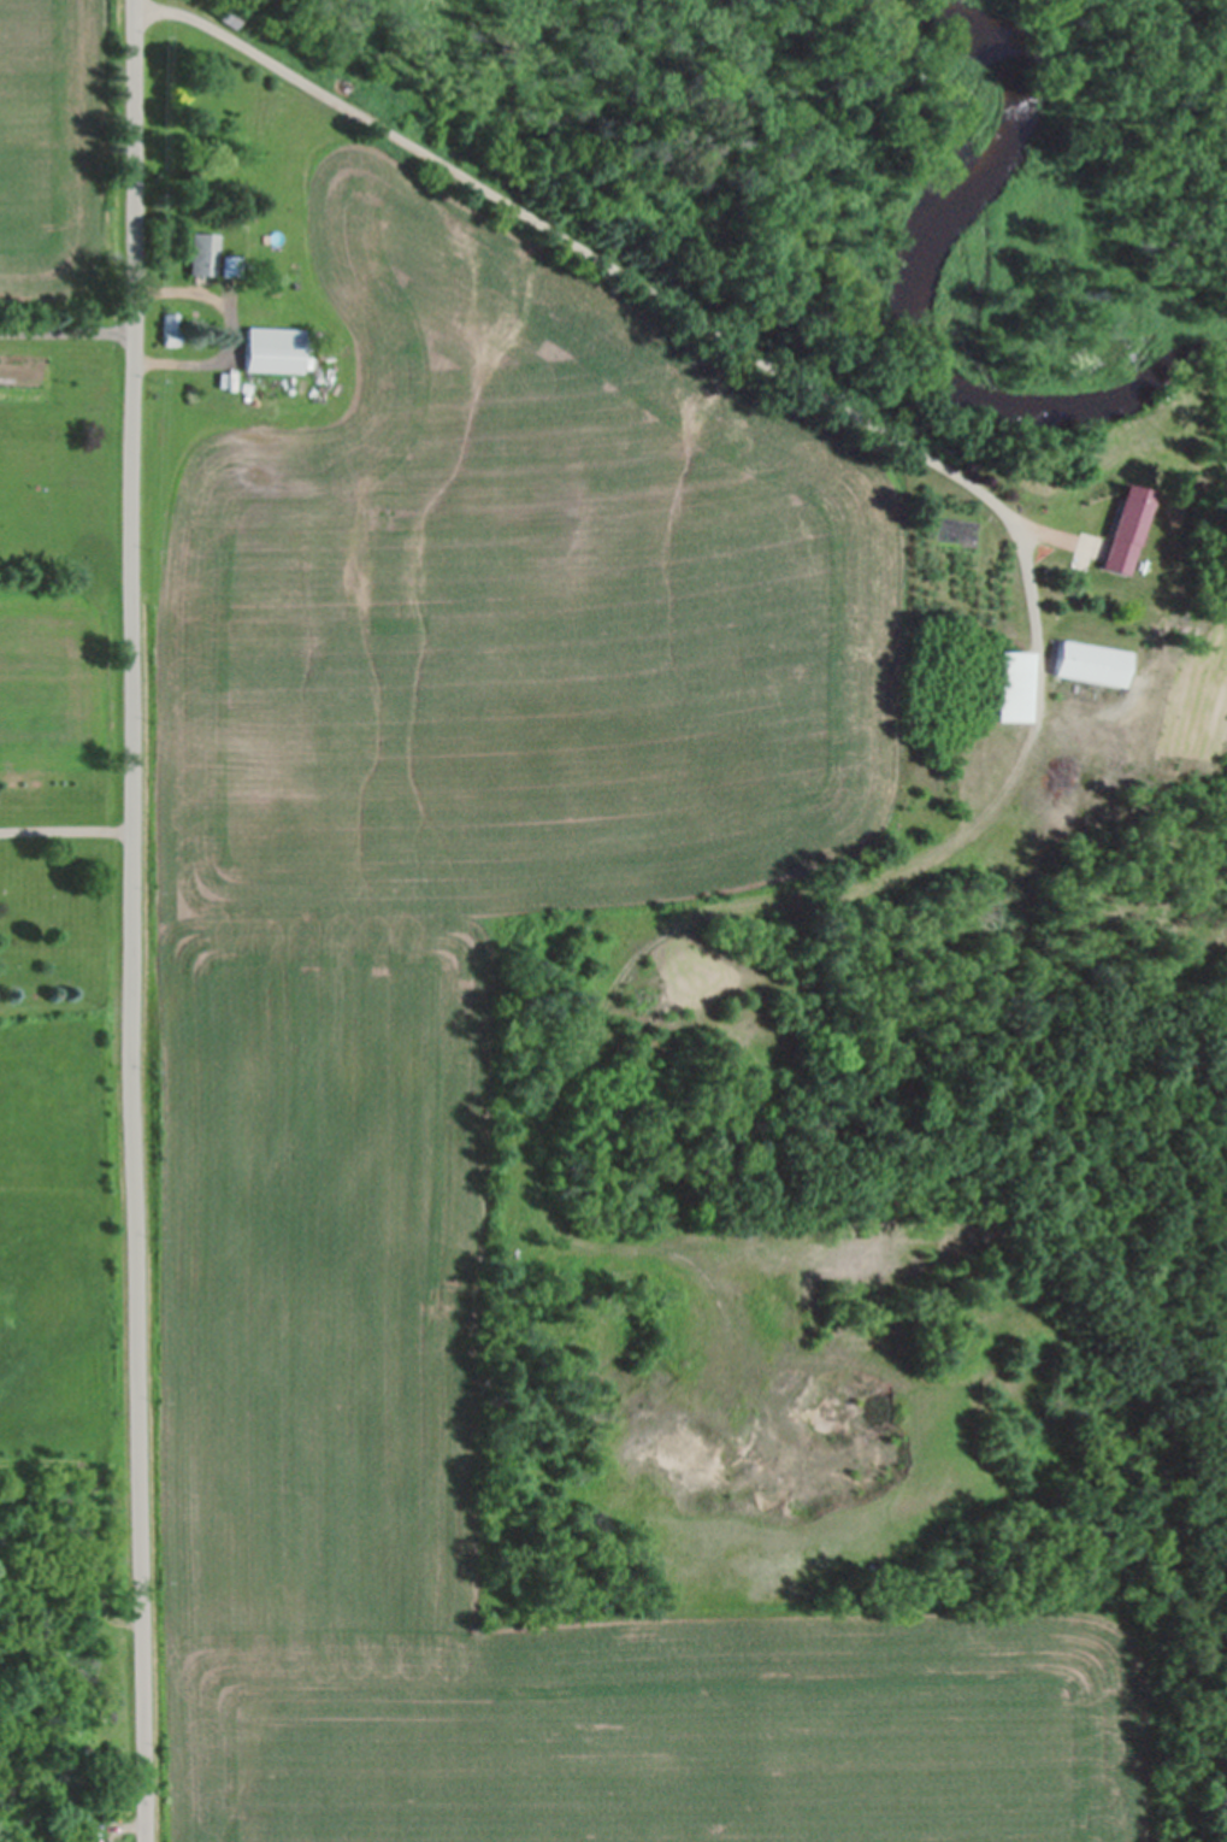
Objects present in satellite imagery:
building: (232, 17)
river: (1087, 177)
road: (589, 249)
building: (203, 253)
building: (172, 329)
road: (69, 330)
road: (226, 330)
building: (275, 349)
building: (1127, 529)
building: (1092, 663)
building: (1014, 685)
road: (143, 920)

